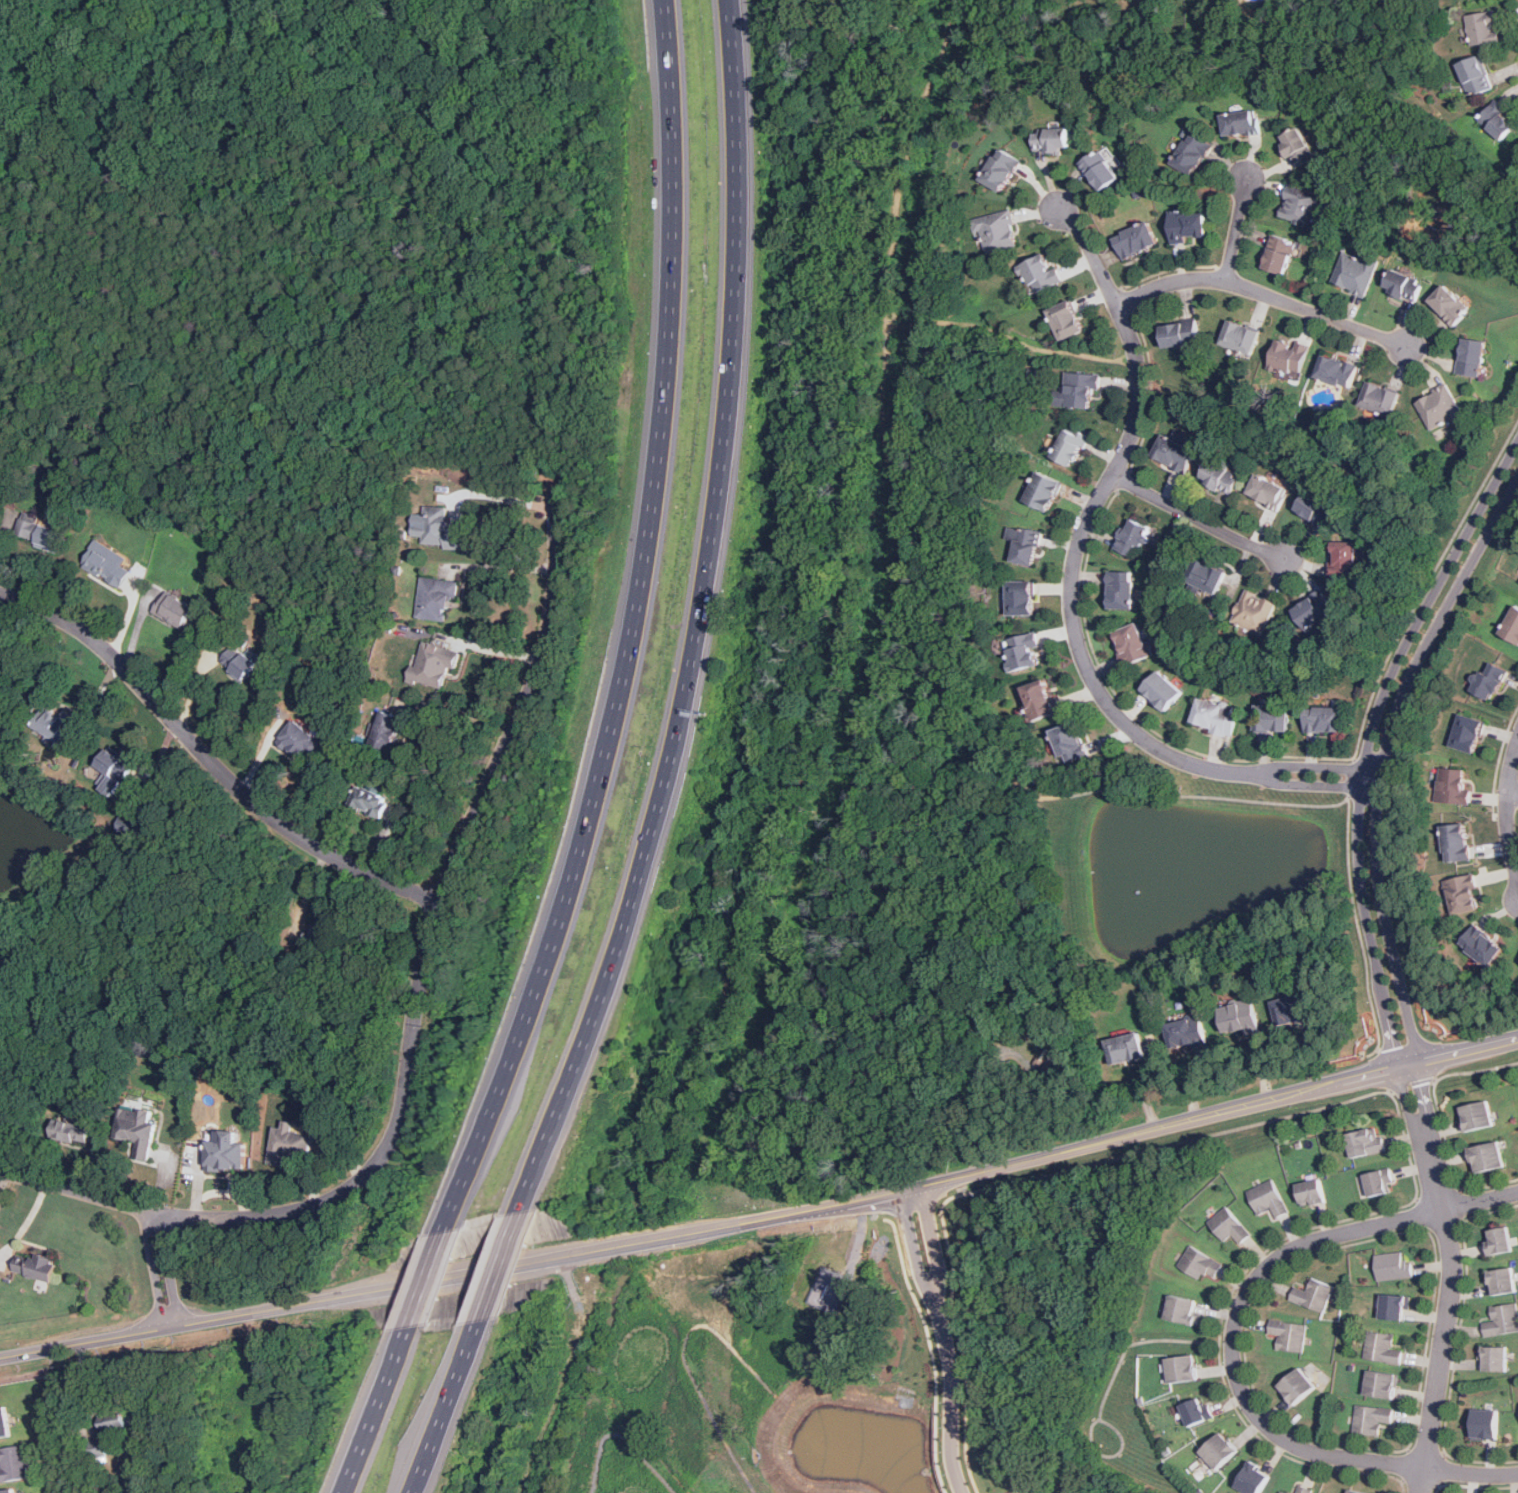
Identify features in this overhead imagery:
building: (1485, 27)
building: (1474, 75)
building: (1497, 119)
building: (1239, 123)
building: (1051, 139)
building: (1296, 147)
building: (1192, 153)
building: (1000, 170)
building: (1099, 170)
building: (1303, 206)
building: (1186, 225)
building: (997, 231)
road: (1237, 231)
building: (1135, 240)
building: (1278, 254)
road: (1174, 268)
building: (1355, 273)
building: (1039, 274)
building: (1402, 285)
road: (1264, 295)
road: (1128, 300)
building: (1449, 305)
building: (1065, 320)
building: (1179, 333)
road: (1015, 337)
building: (1240, 337)
building: (1472, 357)
building: (1288, 358)
road: (1127, 365)
building: (1336, 370)
building: (1080, 390)
road: (1154, 393)
building: (1380, 399)
building: (1439, 408)
building: (1069, 446)
building: (1174, 453)
road: (460, 463)
building: (1219, 477)
road: (1122, 481)
building: (1042, 491)
building: (1267, 491)
road: (498, 496)
building: (1315, 510)
road: (1198, 519)
road: (1084, 528)
building: (438, 529)
building: (39, 533)
building: (1131, 536)
building: (1025, 546)
building: (1343, 561)
building: (107, 564)
road: (504, 567)
road: (918, 573)
building: (1205, 576)
road: (1423, 582)
building: (1120, 589)
building: (1021, 598)
building: (436, 599)
building: (1312, 608)
building: (174, 610)
building: (1254, 612)
road: (699, 619)
building: (1511, 626)
road: (632, 629)
building: (1131, 643)
road: (494, 649)
building: (1023, 651)
building: (238, 661)
building: (432, 665)
building: (1489, 680)
building: (1161, 691)
building: (1042, 701)
road: (1131, 708)
road: (460, 711)
building: (1215, 716)
building: (1271, 718)
building: (1324, 719)
building: (55, 725)
building: (387, 731)
building: (1466, 733)
building: (301, 740)
road: (1367, 740)
building: (1069, 743)
road: (210, 760)
road: (1314, 765)
building: (113, 771)
road: (1352, 777)
road: (1311, 784)
building: (1452, 787)
road: (1373, 794)
road: (1513, 794)
building: (369, 801)
road: (1509, 807)
building: (130, 826)
building: (1456, 843)
fountain: (1141, 891)
building: (1462, 894)
road: (1360, 923)
building: (324, 927)
building: (1481, 946)
road: (428, 947)
building: (1290, 1010)
building: (1237, 1018)
building: (1186, 1033)
building: (1125, 1049)
road: (1385, 1071)
road: (1477, 1073)
road: (1412, 1084)
road: (1407, 1104)
road: (1237, 1111)
building: (1475, 1116)
building: (137, 1129)
building: (70, 1131)
road: (1206, 1135)
building: (1365, 1141)
building: (289, 1142)
building: (225, 1151)
building: (1486, 1156)
road: (1451, 1163)
building: (1375, 1183)
building: (1311, 1192)
building: (1268, 1198)
road: (812, 1210)
road: (1464, 1216)
building: (1229, 1225)
building: (1498, 1240)
road: (631, 1245)
building: (1199, 1263)
building: (34, 1266)
building: (1393, 1266)
road: (499, 1268)
road: (162, 1270)
road: (425, 1280)
building: (1501, 1281)
road: (938, 1283)
power substation: (829, 1289)
building: (1313, 1295)
road: (297, 1305)
building: (1394, 1306)
building: (1183, 1310)
road: (1447, 1312)
building: (1502, 1319)
building: (1289, 1334)
road: (1142, 1341)
road: (1233, 1343)
road: (1457, 1346)
building: (1382, 1348)
road: (933, 1351)
building: (1493, 1359)
building: (1183, 1368)
building: (1382, 1384)
building: (1297, 1386)
road: (960, 1388)
road: (445, 1408)
road: (375, 1411)
building: (1197, 1412)
building: (1371, 1419)
building: (3, 1422)
building: (112, 1423)
building: (1484, 1424)
road: (1295, 1431)
building: (1220, 1451)
road: (1282, 1452)
road: (1113, 1455)
building: (13, 1463)
building: (1254, 1479)
road: (1433, 1484)
road: (1475, 1486)
building: (1304, 1489)
building: (7, 1491)
building: (1355, 1491)
building: (1283, 1492)

